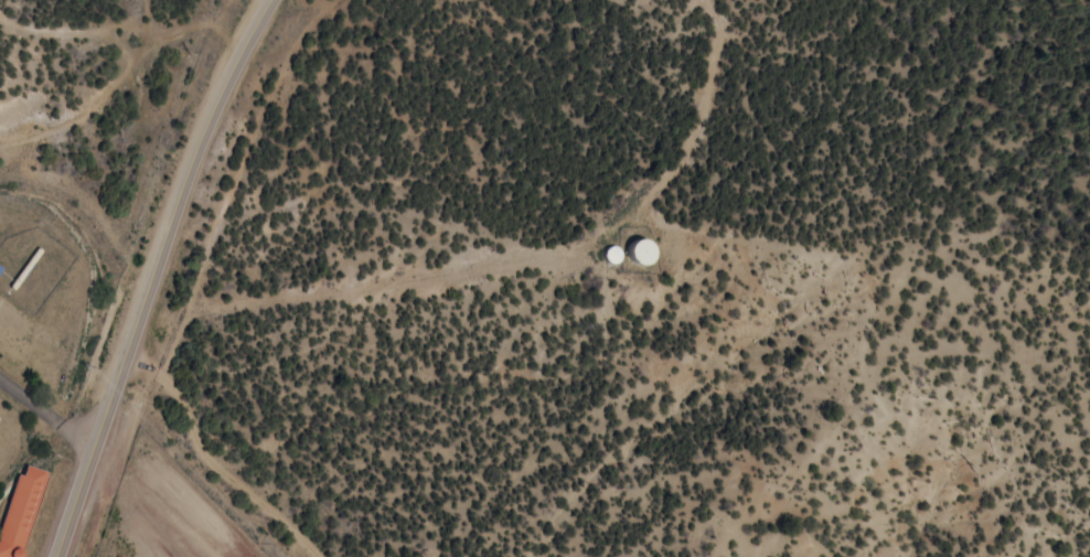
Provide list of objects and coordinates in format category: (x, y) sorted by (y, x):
road: (99, 101)
building: (640, 248)
storage tank: (640, 248)
building: (610, 251)
storage tank: (610, 251)
road: (151, 274)
road: (79, 395)
building: (19, 511)

